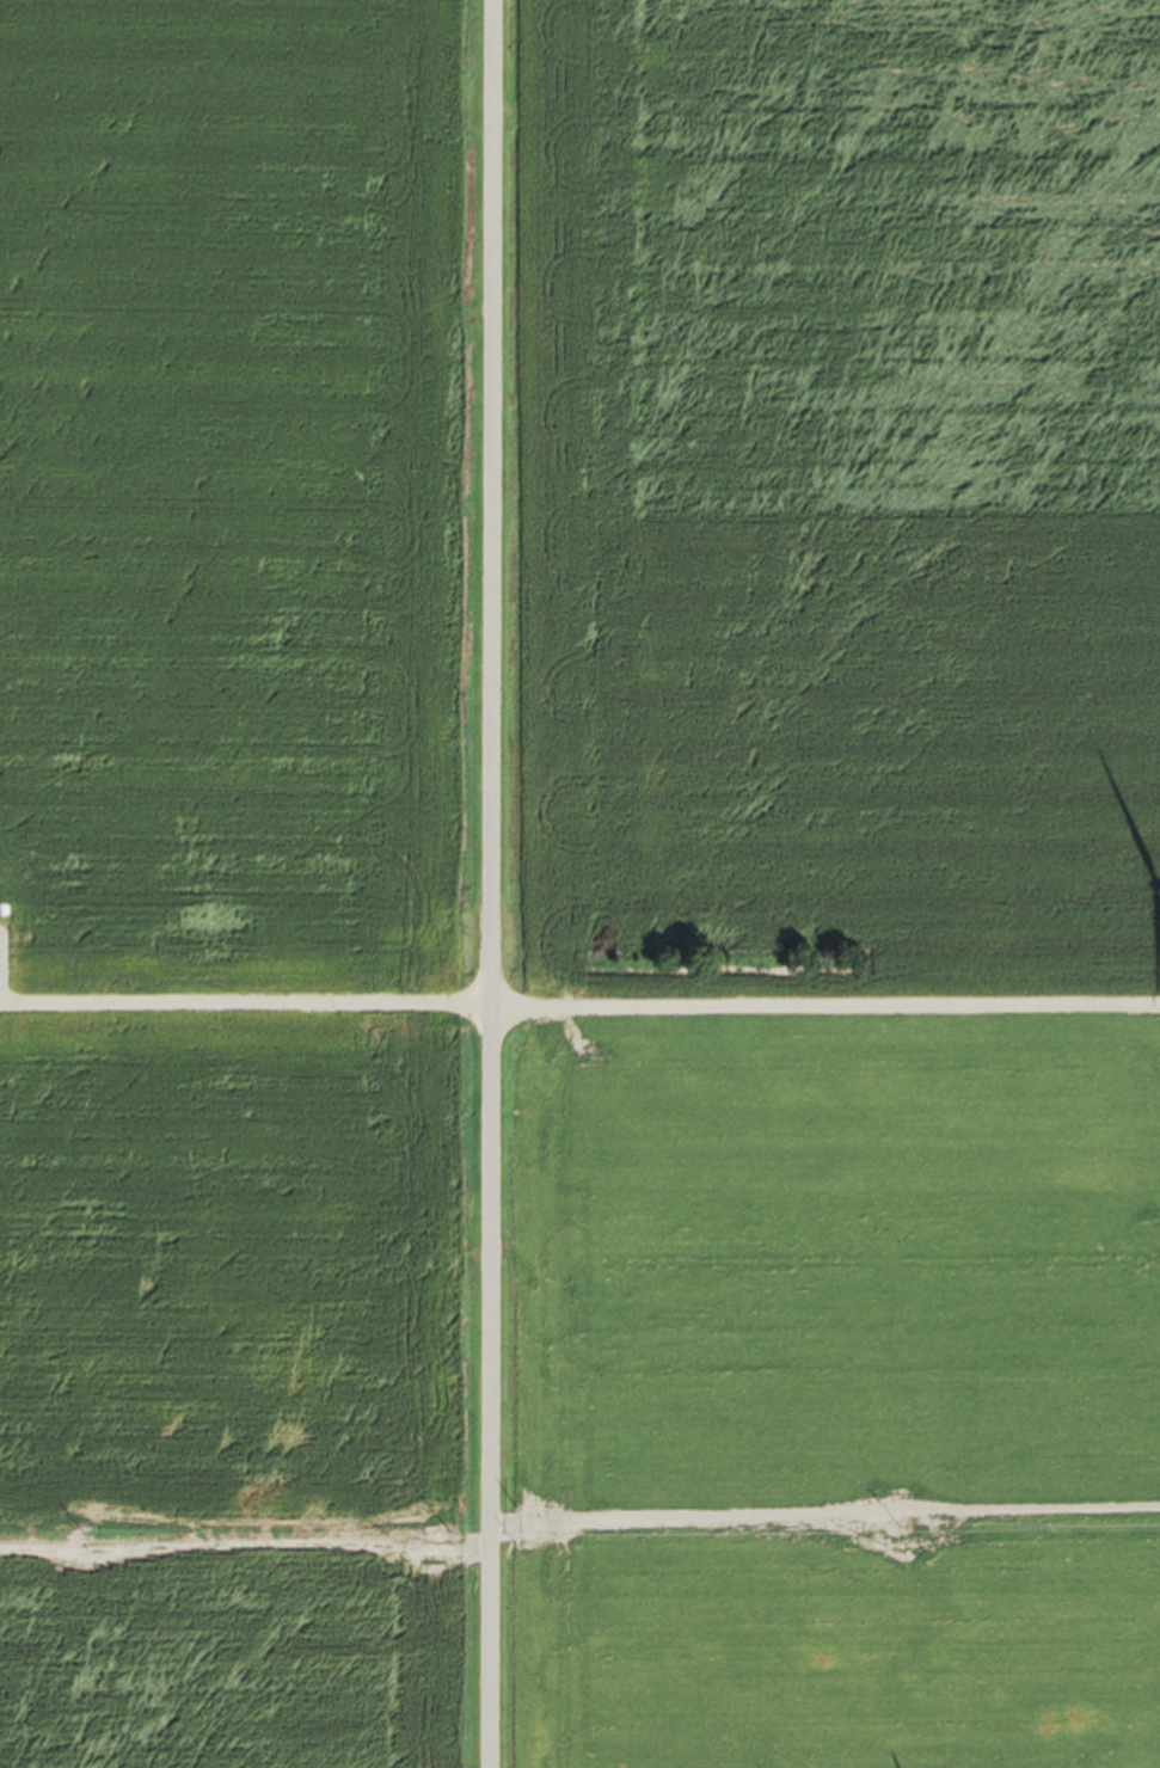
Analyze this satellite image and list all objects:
road: (492, 883)
building: (18, 975)
road: (579, 1012)

